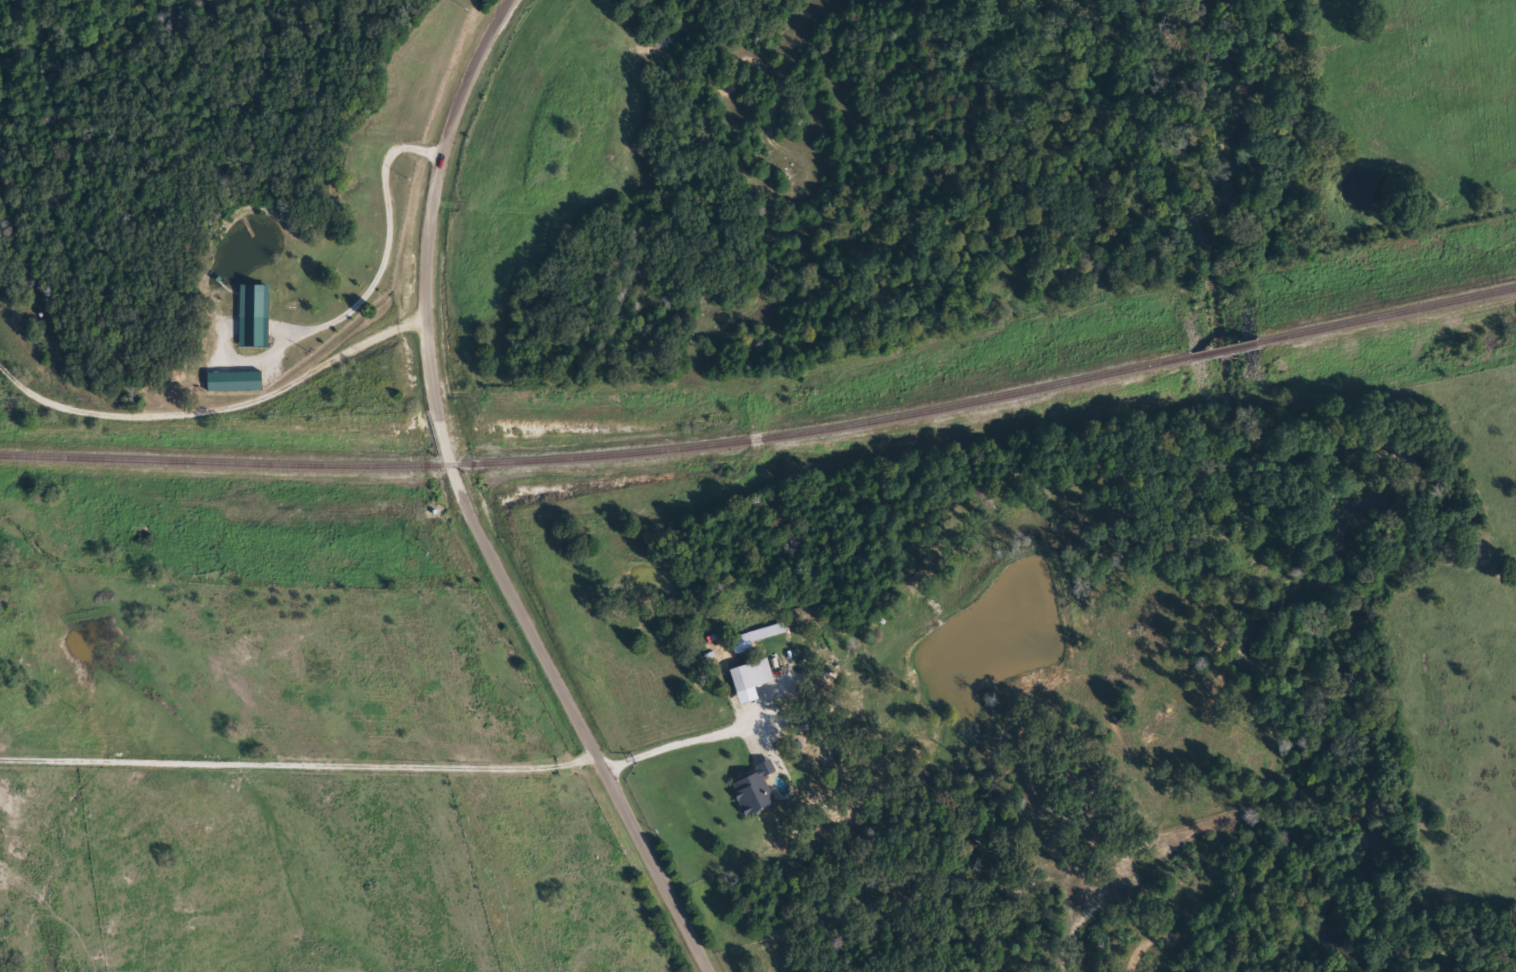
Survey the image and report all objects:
building: (253, 317)
building: (233, 383)
railway: (764, 438)
road: (463, 499)
building: (755, 639)
building: (749, 681)
building: (754, 790)

